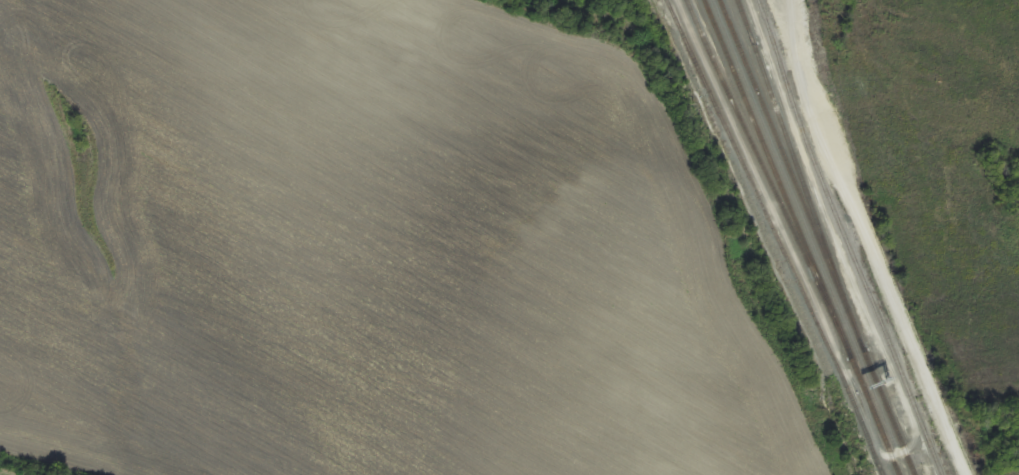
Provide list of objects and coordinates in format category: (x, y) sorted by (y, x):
railway: (758, 155)
railway: (800, 166)
railway: (778, 236)
railway: (803, 237)
railway: (819, 237)
railway: (847, 239)

